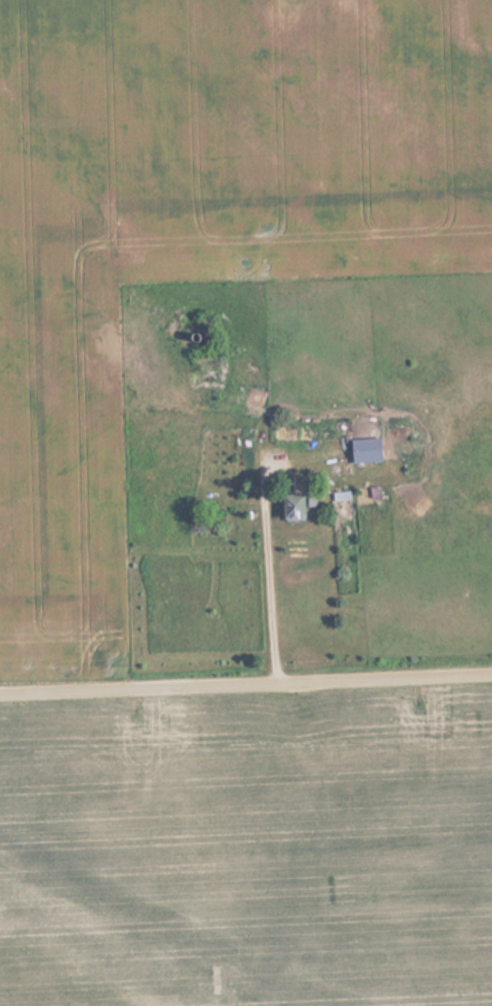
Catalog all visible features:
power tower: (102, 266)
building: (212, 321)
building: (364, 449)
building: (291, 506)
road: (246, 683)

